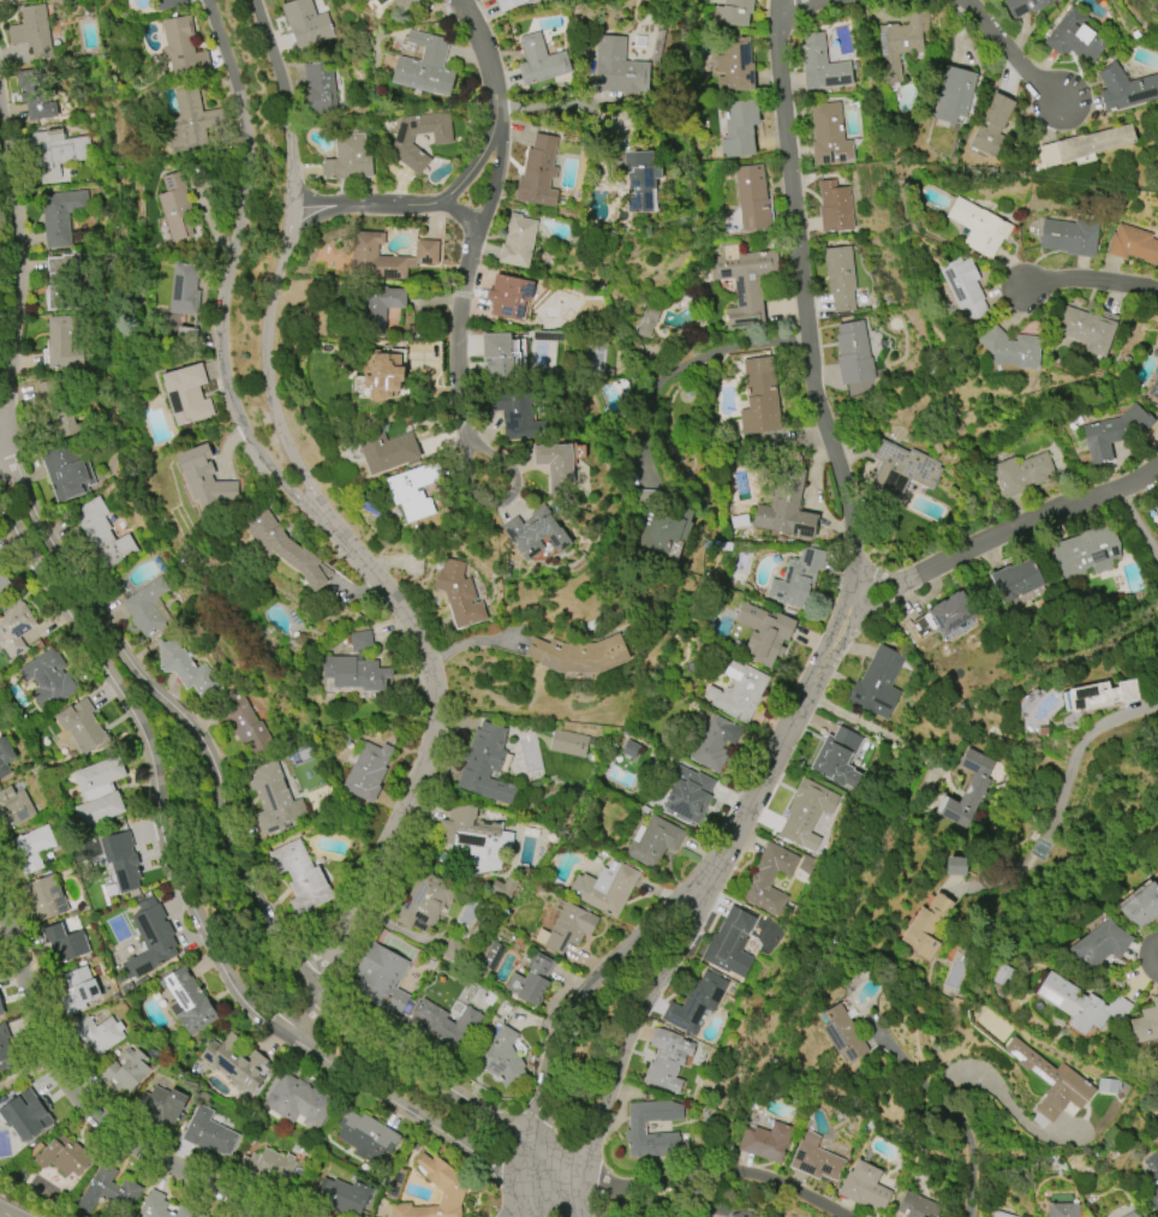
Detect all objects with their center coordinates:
building: (168, 4)
building: (402, 4)
building: (509, 4)
road: (796, 4)
building: (1025, 6)
building: (733, 12)
building: (305, 23)
building: (31, 31)
building: (1074, 37)
building: (900, 42)
building: (183, 47)
road: (484, 52)
road: (1010, 52)
building: (539, 60)
building: (734, 65)
building: (424, 66)
building: (822, 66)
building: (619, 68)
building: (320, 88)
building: (1124, 89)
building: (34, 95)
building: (953, 95)
road: (559, 107)
building: (191, 120)
building: (739, 129)
building: (992, 129)
building: (829, 135)
building: (442, 139)
building: (1086, 144)
building: (56, 151)
building: (347, 159)
road: (474, 162)
building: (537, 173)
building: (637, 178)
road: (495, 179)
building: (752, 197)
road: (359, 203)
building: (175, 207)
building: (835, 207)
building: (60, 215)
road: (461, 216)
building: (978, 227)
building: (1069, 237)
building: (517, 240)
building: (1133, 244)
building: (387, 257)
road: (280, 261)
road: (19, 264)
road: (228, 272)
building: (840, 278)
road: (1090, 279)
building: (62, 282)
building: (742, 282)
building: (963, 287)
building: (184, 288)
building: (508, 296)
road: (802, 297)
building: (378, 306)
building: (647, 322)
building: (1087, 328)
road: (456, 332)
building: (62, 344)
building: (1010, 348)
building: (517, 352)
building: (853, 353)
building: (497, 356)
road: (688, 364)
building: (382, 375)
building: (861, 388)
building: (1154, 389)
building: (186, 394)
building: (760, 396)
building: (58, 408)
building: (515, 414)
building: (1114, 432)
building: (386, 451)
building: (555, 466)
building: (901, 471)
building: (66, 473)
building: (1021, 473)
building: (204, 481)
building: (412, 491)
road: (502, 501)
building: (786, 507)
road: (1034, 517)
road: (1136, 523)
building: (662, 529)
building: (535, 532)
building: (102, 536)
building: (281, 547)
building: (1087, 551)
building: (796, 577)
road: (883, 579)
building: (1016, 579)
building: (4, 584)
building: (459, 595)
road: (883, 599)
building: (147, 608)
building: (950, 613)
building: (14, 628)
building: (764, 633)
road: (467, 643)
building: (578, 655)
building: (356, 667)
building: (185, 668)
building: (48, 679)
building: (877, 684)
building: (738, 692)
building: (1098, 696)
road: (795, 712)
road: (1105, 722)
building: (245, 724)
building: (80, 726)
building: (714, 742)
building: (568, 744)
building: (837, 757)
building: (5, 758)
road: (155, 759)
building: (487, 764)
building: (366, 771)
road: (420, 771)
building: (968, 788)
building: (99, 792)
building: (688, 795)
building: (273, 799)
building: (14, 809)
building: (806, 813)
building: (476, 837)
building: (653, 841)
building: (31, 848)
road: (1045, 849)
building: (121, 859)
road: (233, 863)
building: (955, 866)
building: (299, 877)
building: (1157, 877)
building: (770, 878)
building: (1157, 882)
building: (604, 888)
building: (46, 897)
building: (424, 900)
building: (1141, 907)
building: (926, 926)
building: (567, 929)
building: (151, 938)
building: (65, 942)
building: (729, 943)
building: (1100, 944)
building: (1002, 976)
building: (531, 978)
building: (381, 979)
building: (79, 990)
road: (577, 998)
building: (187, 1001)
building: (694, 1003)
building: (1081, 1004)
building: (1, 1009)
road: (638, 1018)
building: (1146, 1022)
building: (448, 1026)
building: (99, 1033)
building: (843, 1033)
building: (5, 1049)
building: (500, 1057)
building: (665, 1058)
building: (235, 1063)
building: (125, 1070)
building: (1051, 1081)
road: (939, 1085)
building: (299, 1100)
road: (84, 1105)
building: (160, 1105)
road: (417, 1111)
building: (24, 1115)
building: (1157, 1123)
building: (633, 1131)
building: (208, 1133)
building: (365, 1135)
building: (766, 1141)
building: (62, 1156)
building: (814, 1159)
building: (268, 1167)
road: (680, 1174)
building: (1152, 1177)
building: (448, 1186)
building: (864, 1187)
building: (108, 1189)
building: (341, 1195)
road: (668, 1204)
road: (22, 1206)
building: (161, 1206)
building: (917, 1206)
building: (1063, 1210)
road: (5, 1213)
building: (201, 1215)
building: (1001, 1215)
building: (1132, 1215)

